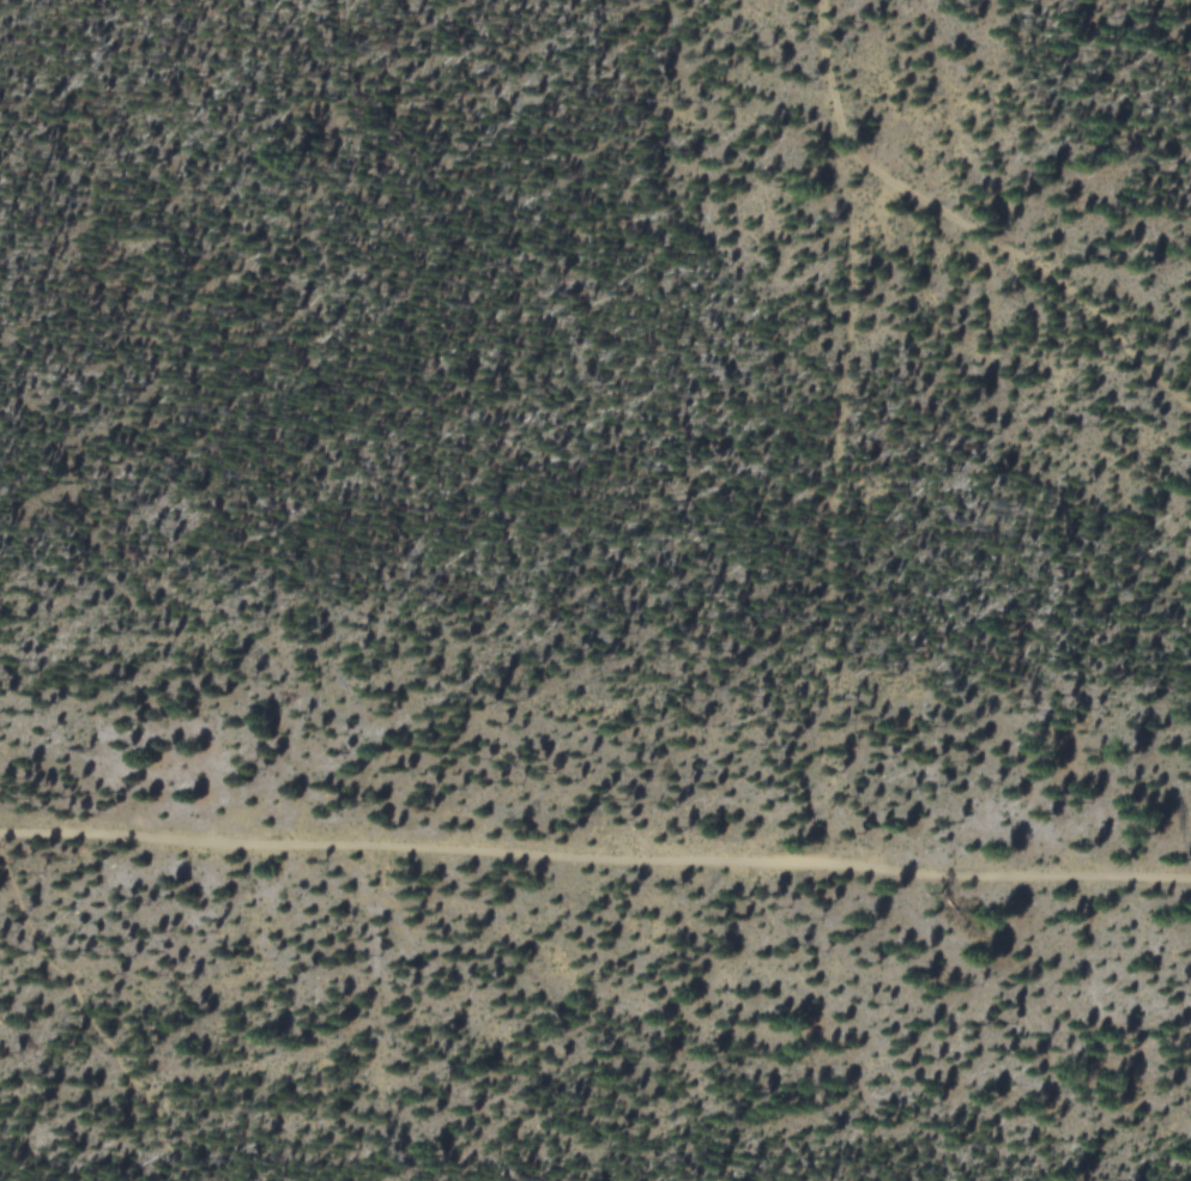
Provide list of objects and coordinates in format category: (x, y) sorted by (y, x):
road: (959, 228)
road: (840, 513)
road: (594, 856)
road: (91, 1022)

